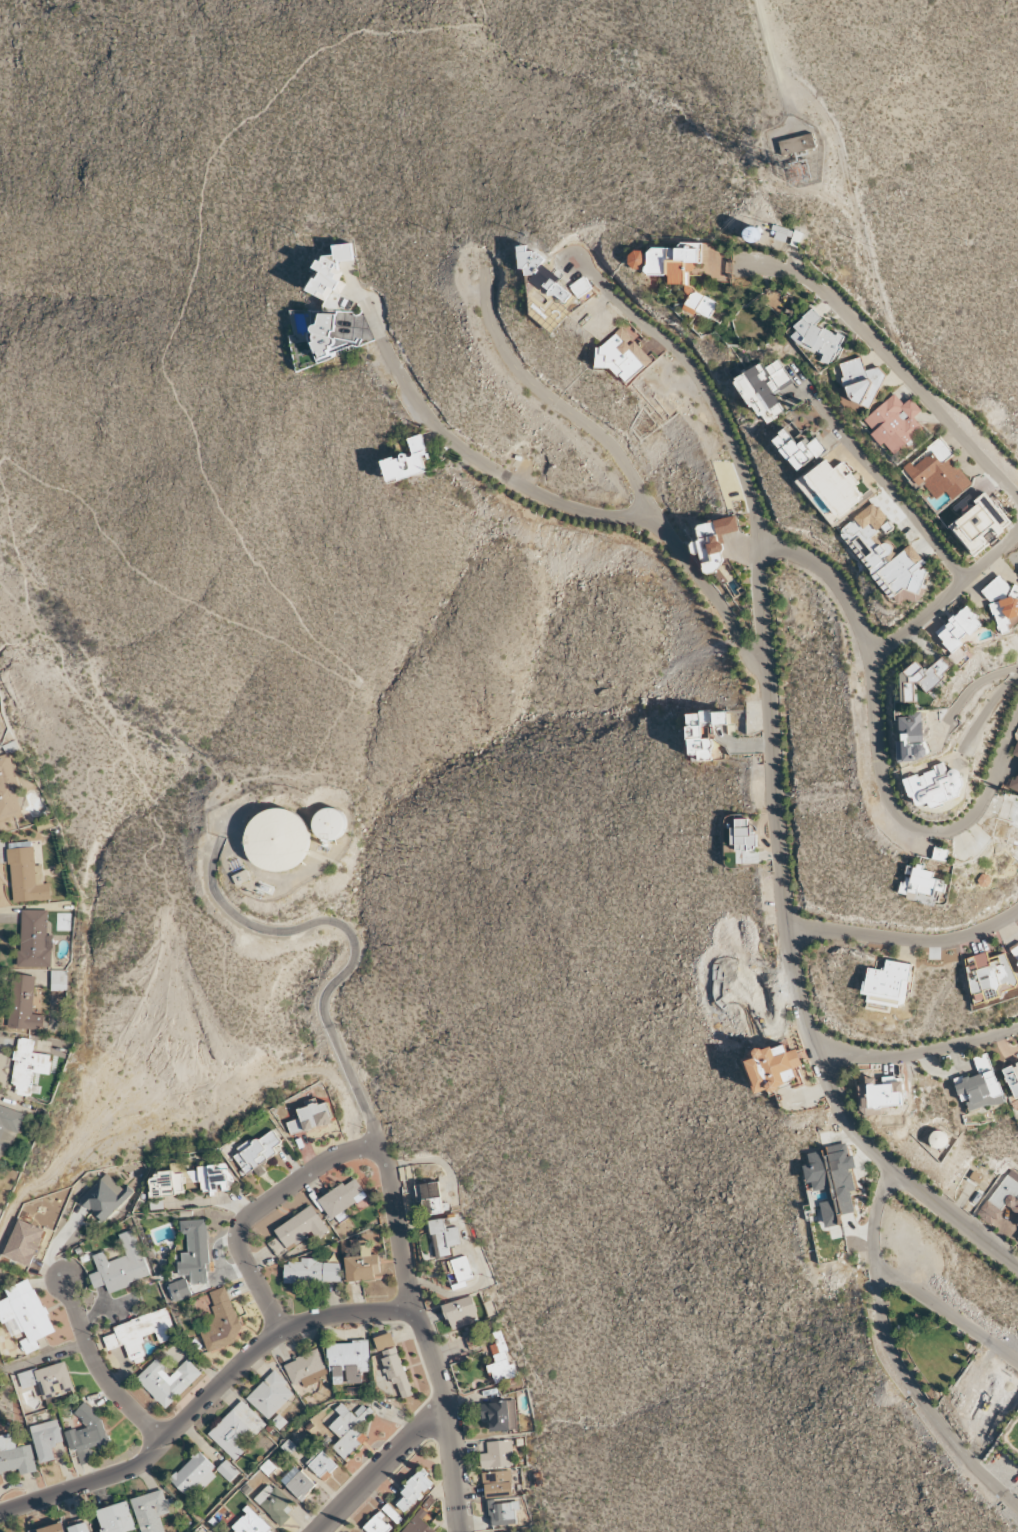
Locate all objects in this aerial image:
road: (772, 55)
building: (796, 144)
building: (765, 227)
storage tank: (765, 227)
building: (640, 259)
building: (331, 271)
building: (542, 272)
building: (683, 274)
building: (581, 286)
building: (817, 337)
building: (327, 338)
building: (623, 356)
road: (890, 359)
building: (861, 383)
building: (767, 390)
building: (895, 422)
building: (798, 449)
road: (475, 457)
building: (408, 461)
road: (625, 461)
building: (938, 471)
road: (877, 473)
road: (211, 486)
building: (836, 488)
building: (979, 524)
building: (713, 541)
building: (885, 556)
road: (947, 596)
building: (1002, 602)
building: (958, 631)
building: (920, 678)
road: (971, 690)
road: (987, 711)
building: (694, 731)
building: (912, 738)
road: (163, 743)
road: (880, 745)
building: (1015, 750)
road: (776, 773)
road: (285, 775)
road: (137, 776)
building: (934, 786)
building: (8, 792)
building: (329, 824)
water tower: (330, 824)
building: (742, 834)
building: (278, 839)
water tower: (278, 840)
building: (27, 876)
building: (920, 884)
road: (303, 927)
building: (34, 939)
road: (907, 939)
building: (1015, 951)
building: (990, 973)
building: (58, 980)
building: (887, 985)
building: (23, 1003)
road: (918, 1053)
building: (28, 1067)
building: (772, 1067)
road: (268, 1068)
building: (1012, 1078)
road: (352, 1088)
building: (979, 1089)
building: (880, 1094)
building: (311, 1116)
building: (7, 1129)
building: (938, 1139)
building: (257, 1151)
building: (212, 1177)
building: (832, 1180)
building: (168, 1182)
road: (296, 1183)
building: (105, 1196)
building: (430, 1197)
building: (343, 1198)
building: (1001, 1199)
building: (1017, 1225)
building: (301, 1227)
building: (443, 1237)
building: (1017, 1238)
building: (23, 1242)
building: (196, 1247)
building: (120, 1265)
building: (362, 1268)
building: (462, 1268)
building: (311, 1271)
road: (411, 1280)
building: (180, 1289)
road: (259, 1289)
building: (461, 1312)
building: (26, 1313)
road: (948, 1314)
road: (346, 1315)
building: (221, 1321)
building: (141, 1333)
road: (897, 1357)
road: (43, 1358)
building: (500, 1360)
building: (348, 1361)
building: (394, 1364)
building: (306, 1368)
road: (99, 1369)
building: (48, 1379)
building: (167, 1380)
building: (270, 1394)
building: (501, 1415)
building: (236, 1428)
building: (349, 1428)
building: (87, 1434)
building: (46, 1439)
road: (154, 1450)
road: (272, 1451)
building: (497, 1454)
building: (16, 1458)
building: (321, 1463)
road: (380, 1469)
building: (227, 1470)
road: (455, 1473)
building: (194, 1475)
building: (298, 1482)
building: (497, 1483)
building: (413, 1491)
building: (274, 1504)
building: (151, 1510)
building: (501, 1512)
building: (391, 1513)
building: (116, 1518)
building: (419, 1521)
building: (250, 1524)
building: (377, 1525)
building: (54, 1528)
building: (80, 1528)

